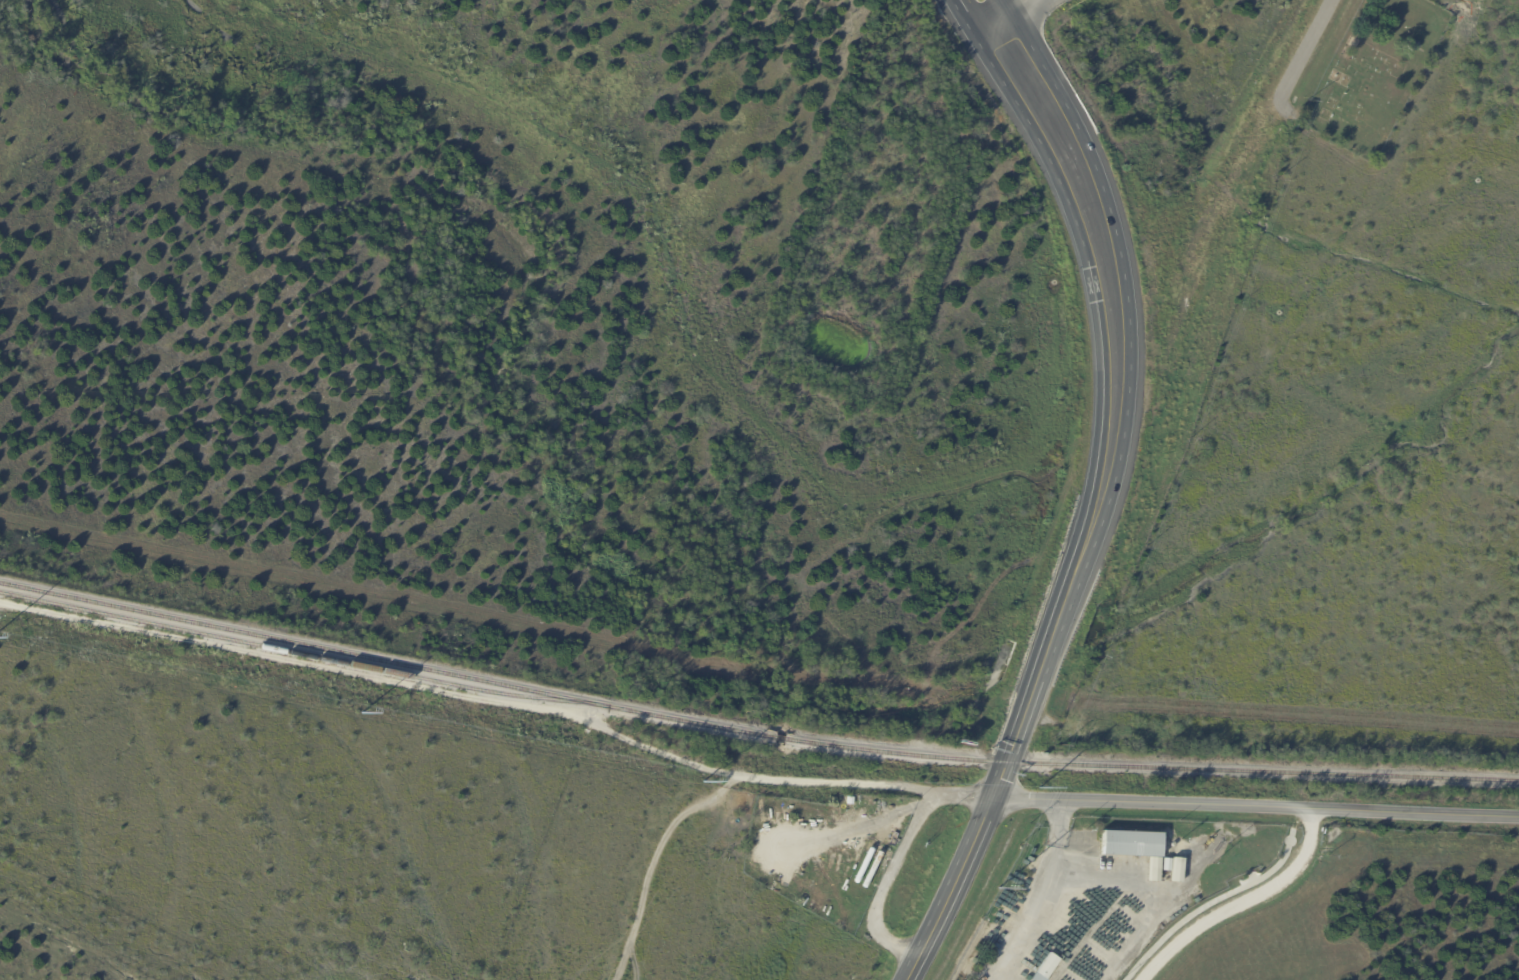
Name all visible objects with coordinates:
road: (1417, 2)
road: (999, 15)
building: (1411, 46)
road: (1303, 50)
road: (1023, 53)
road: (993, 56)
park: (1373, 74)
road: (1303, 122)
road: (1111, 456)
railway: (303, 655)
railway: (752, 734)
road: (839, 785)
road: (906, 806)
road: (1254, 806)
road: (1301, 829)
building: (1131, 844)
road: (652, 862)
road: (899, 862)
building: (1166, 865)
building: (1175, 869)
road: (947, 889)
road: (1029, 892)
road: (1238, 901)
road: (1212, 902)
building: (1045, 968)

